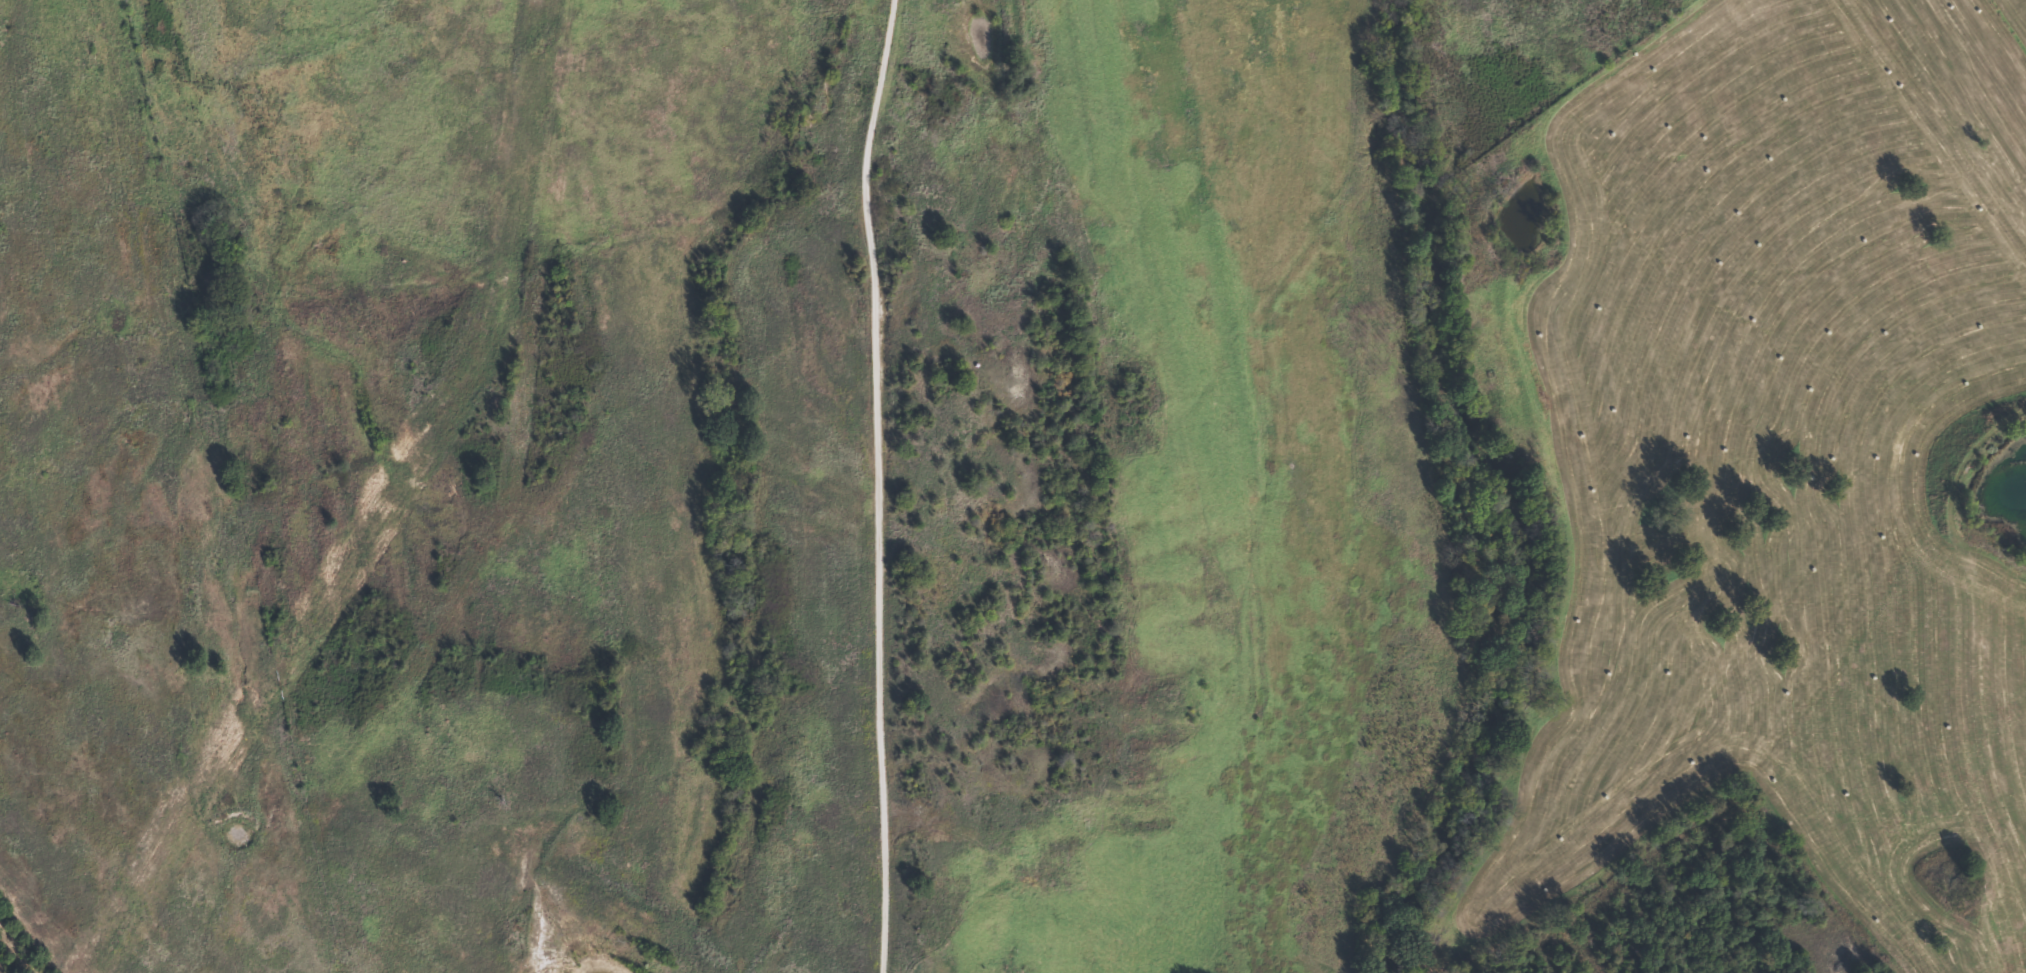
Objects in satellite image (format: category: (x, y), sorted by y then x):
road: (879, 485)

